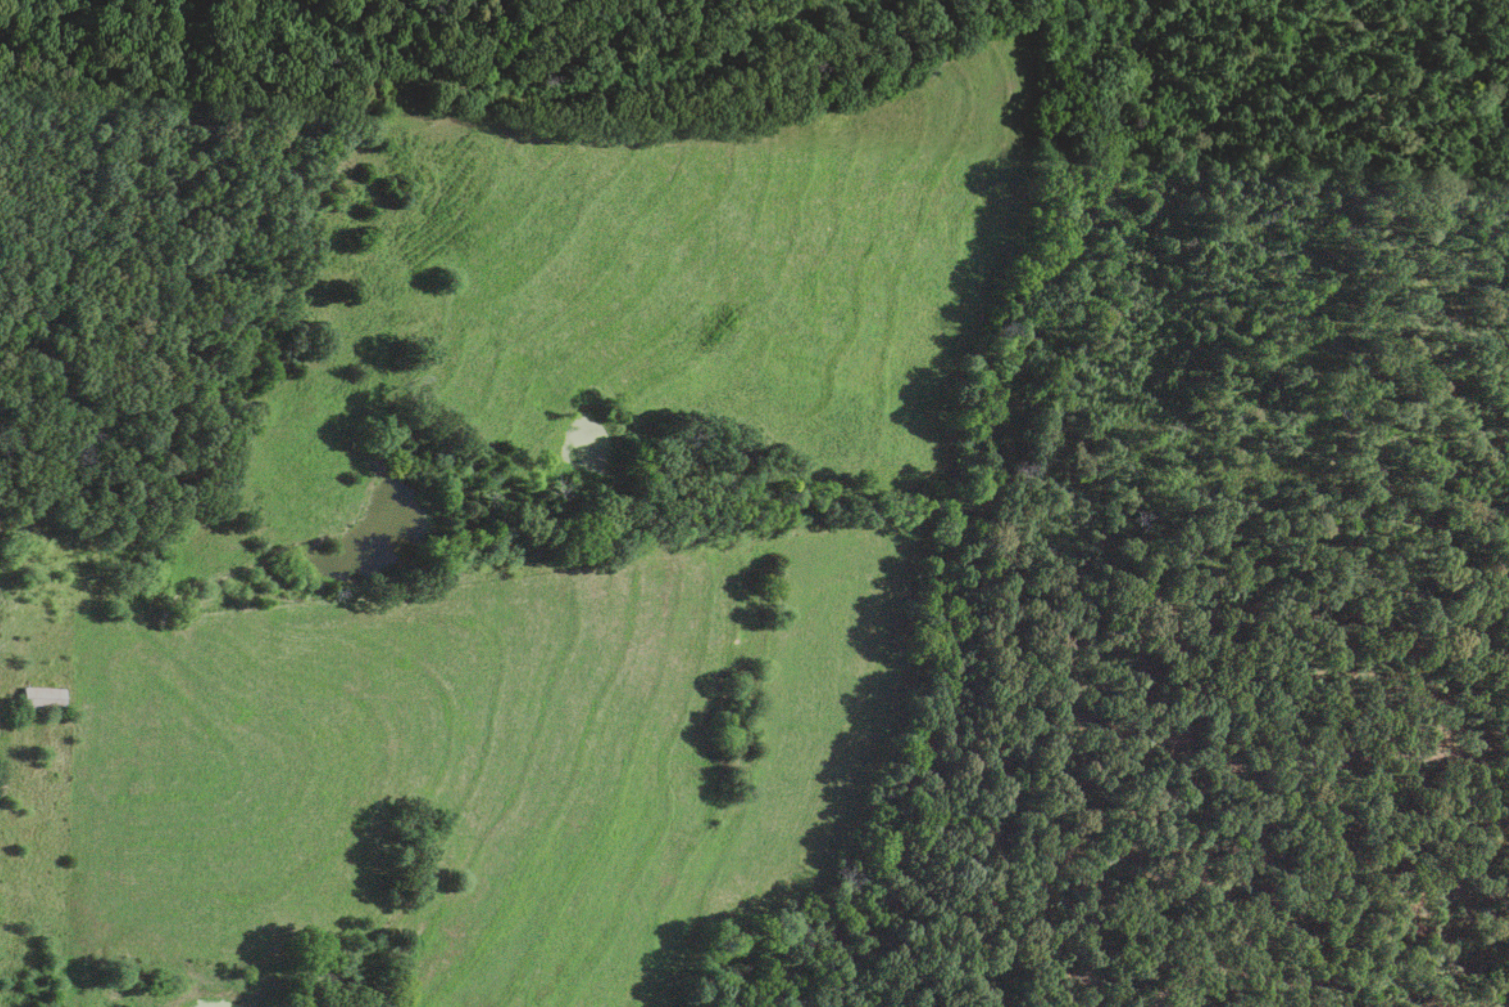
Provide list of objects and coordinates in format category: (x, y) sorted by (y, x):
building: (41, 702)

